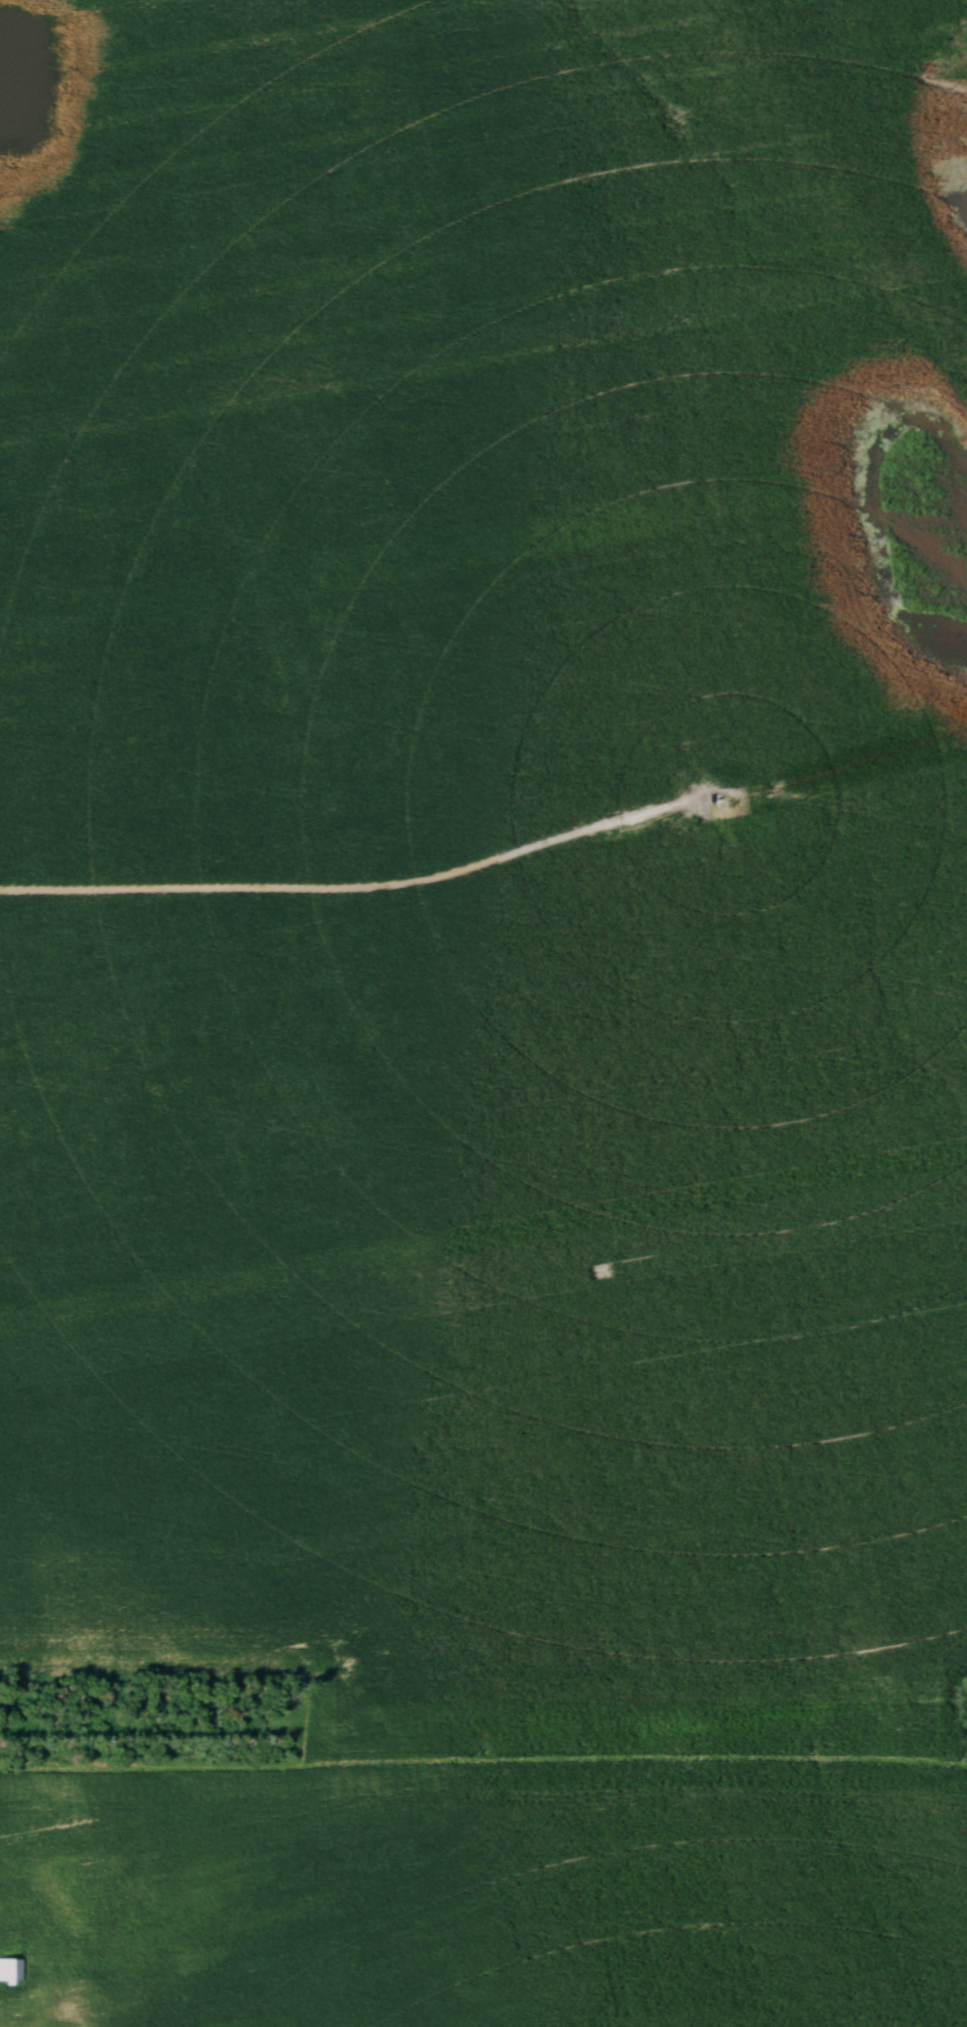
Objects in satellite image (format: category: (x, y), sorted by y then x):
building: (12, 1971)

